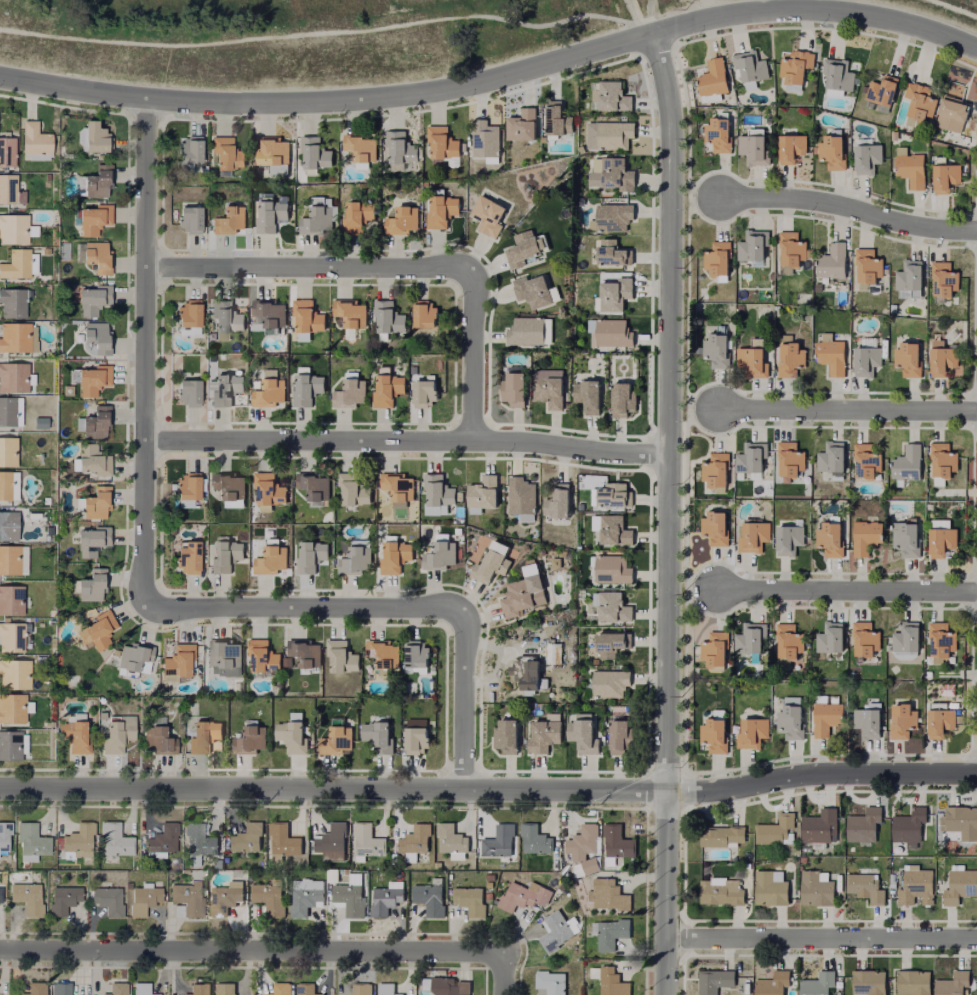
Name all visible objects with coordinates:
road: (954, 9)
road: (814, 10)
road: (670, 12)
road: (644, 28)
road: (320, 33)
building: (750, 63)
building: (796, 64)
building: (838, 71)
building: (713, 76)
building: (882, 91)
building: (614, 93)
building: (921, 99)
road: (328, 102)
building: (558, 116)
building: (956, 120)
building: (522, 122)
building: (719, 130)
building: (615, 132)
building: (35, 136)
building: (98, 136)
building: (485, 136)
building: (361, 144)
building: (401, 144)
building: (443, 144)
building: (191, 145)
building: (792, 145)
building: (756, 147)
building: (273, 148)
building: (834, 148)
building: (7, 149)
building: (315, 150)
building: (227, 151)
building: (867, 153)
building: (913, 167)
building: (618, 172)
building: (948, 174)
building: (96, 179)
building: (8, 187)
building: (441, 208)
road: (848, 208)
building: (271, 213)
building: (489, 213)
building: (320, 214)
building: (614, 214)
building: (95, 215)
building: (191, 215)
building: (359, 215)
building: (230, 217)
building: (402, 217)
building: (14, 226)
building: (754, 243)
building: (523, 246)
building: (791, 250)
building: (614, 251)
building: (100, 253)
building: (718, 257)
building: (834, 261)
building: (16, 262)
building: (869, 266)
road: (395, 268)
building: (911, 274)
building: (945, 278)
building: (532, 289)
building: (616, 291)
building: (95, 297)
building: (13, 300)
building: (425, 312)
building: (269, 313)
building: (350, 313)
building: (388, 314)
building: (226, 316)
building: (307, 317)
building: (187, 318)
building: (526, 330)
building: (612, 330)
building: (94, 333)
building: (18, 335)
building: (195, 342)
building: (234, 345)
building: (718, 347)
building: (832, 354)
building: (909, 355)
building: (792, 356)
building: (754, 357)
building: (868, 357)
building: (943, 357)
building: (14, 374)
building: (91, 376)
building: (387, 386)
building: (514, 386)
building: (226, 387)
building: (68, 388)
building: (307, 388)
building: (190, 389)
building: (550, 389)
building: (268, 390)
building: (425, 390)
building: (350, 391)
building: (589, 392)
building: (624, 394)
building: (7, 408)
road: (846, 408)
building: (98, 420)
road: (406, 441)
building: (8, 448)
building: (791, 456)
building: (94, 457)
building: (833, 457)
building: (752, 459)
building: (868, 459)
building: (944, 460)
building: (908, 461)
building: (718, 467)
building: (5, 483)
building: (313, 485)
building: (229, 486)
building: (398, 486)
building: (189, 487)
building: (353, 487)
building: (438, 488)
building: (268, 489)
building: (482, 492)
building: (616, 492)
building: (521, 496)
building: (559, 499)
building: (96, 500)
building: (435, 511)
road: (667, 513)
building: (4, 523)
building: (594, 524)
building: (716, 525)
building: (616, 528)
building: (755, 535)
building: (867, 535)
building: (791, 537)
building: (831, 537)
building: (908, 537)
building: (943, 537)
building: (94, 539)
building: (442, 551)
building: (225, 553)
building: (396, 553)
building: (310, 555)
building: (271, 556)
building: (356, 556)
building: (10, 557)
building: (188, 557)
building: (490, 563)
building: (613, 568)
building: (91, 583)
road: (845, 592)
building: (11, 597)
building: (517, 597)
road: (144, 602)
building: (612, 604)
building: (98, 629)
building: (11, 635)
building: (830, 636)
building: (751, 637)
building: (907, 639)
building: (942, 639)
building: (866, 640)
building: (612, 641)
building: (789, 641)
building: (715, 648)
building: (223, 652)
building: (417, 652)
building: (554, 652)
building: (383, 653)
building: (136, 654)
building: (262, 654)
building: (305, 654)
building: (341, 655)
building: (179, 660)
building: (14, 672)
building: (530, 677)
building: (611, 681)
building: (790, 702)
building: (14, 706)
building: (827, 713)
building: (904, 719)
building: (941, 719)
building: (791, 720)
building: (869, 720)
building: (76, 731)
building: (716, 731)
building: (753, 731)
building: (118, 732)
building: (545, 733)
building: (204, 734)
building: (507, 734)
building: (584, 734)
building: (159, 735)
building: (292, 735)
building: (378, 735)
building: (622, 735)
building: (250, 737)
building: (336, 739)
building: (416, 739)
building: (11, 743)
road: (489, 789)
building: (960, 820)
building: (910, 825)
building: (864, 826)
building: (818, 827)
building: (776, 829)
building: (5, 833)
building: (721, 835)
building: (248, 837)
building: (450, 837)
building: (78, 838)
building: (164, 838)
building: (535, 838)
building: (199, 839)
building: (32, 840)
building: (115, 841)
building: (282, 841)
building: (332, 841)
building: (366, 841)
building: (414, 841)
building: (498, 841)
building: (583, 841)
building: (617, 842)
building: (589, 865)
building: (434, 866)
building: (327, 876)
building: (485, 884)
building: (961, 884)
building: (866, 885)
building: (917, 885)
building: (771, 887)
building: (817, 887)
building: (722, 890)
building: (609, 893)
building: (1, 894)
building: (28, 896)
building: (269, 896)
building: (305, 896)
building: (430, 896)
building: (485, 896)
building: (146, 897)
building: (225, 897)
building: (348, 897)
building: (386, 897)
building: (64, 898)
building: (188, 898)
building: (108, 899)
building: (521, 899)
building: (470, 900)
building: (555, 930)
building: (610, 932)
road: (820, 939)
road: (272, 949)
building: (715, 980)
building: (551, 981)
building: (610, 981)
building: (914, 982)
building: (773, 983)
building: (818, 983)
building: (869, 983)
building: (954, 983)
building: (445, 985)
building: (199, 986)
building: (62, 987)
building: (35, 988)
building: (117, 988)
building: (143, 988)
building: (223, 988)
building: (280, 988)
building: (360, 988)
building: (386, 988)
building: (306, 989)

